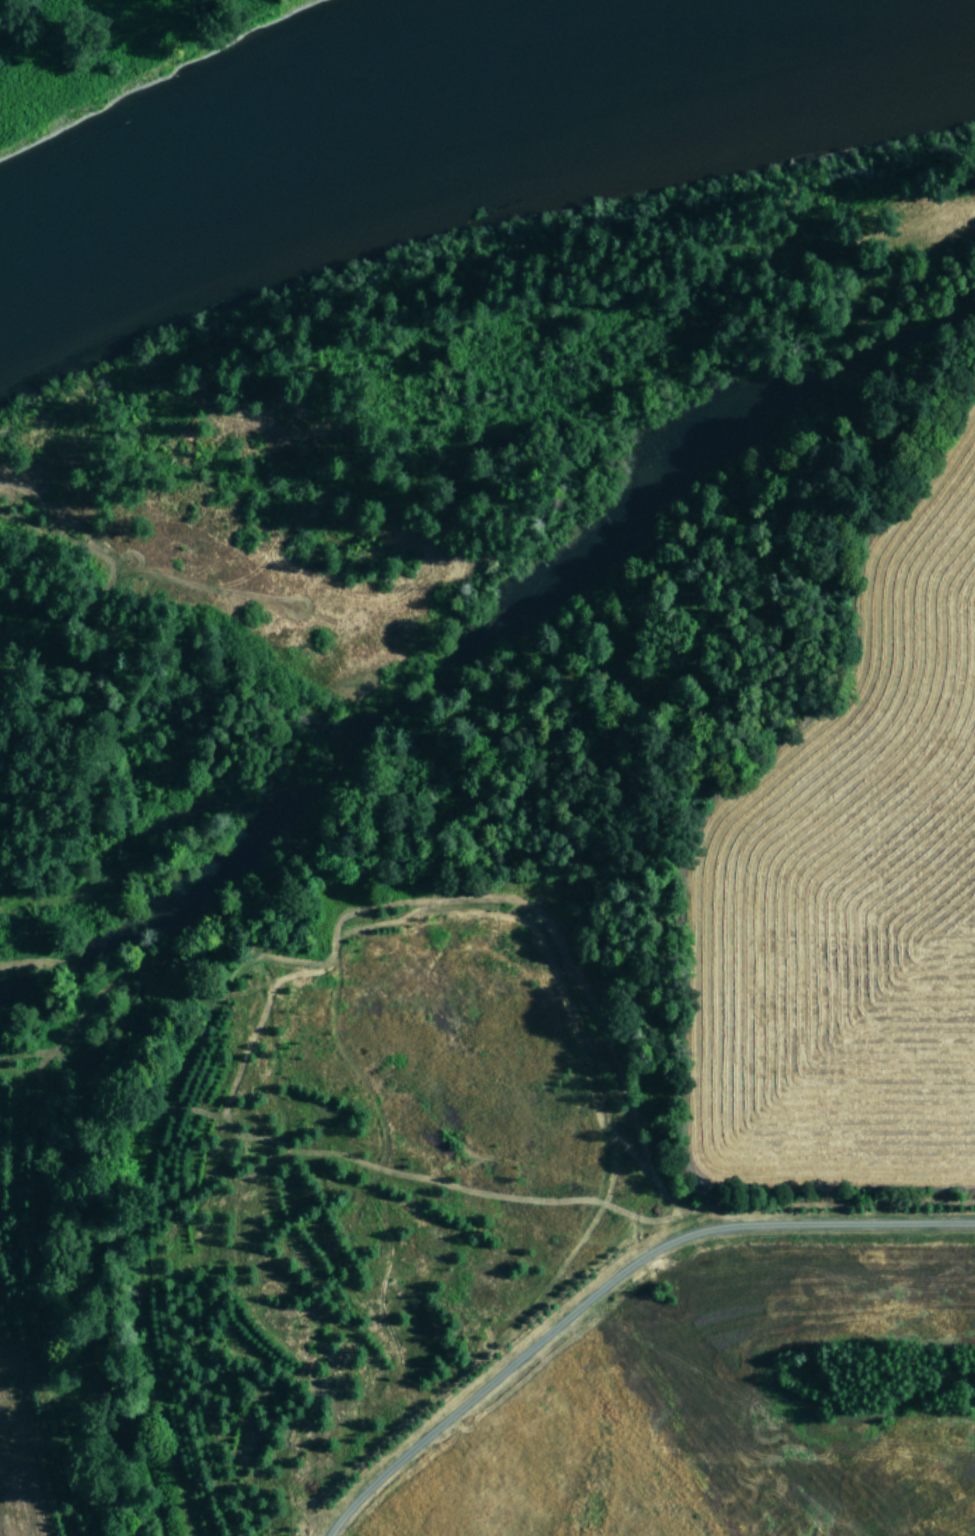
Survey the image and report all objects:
river: (472, 116)
crop: (618, 1146)

